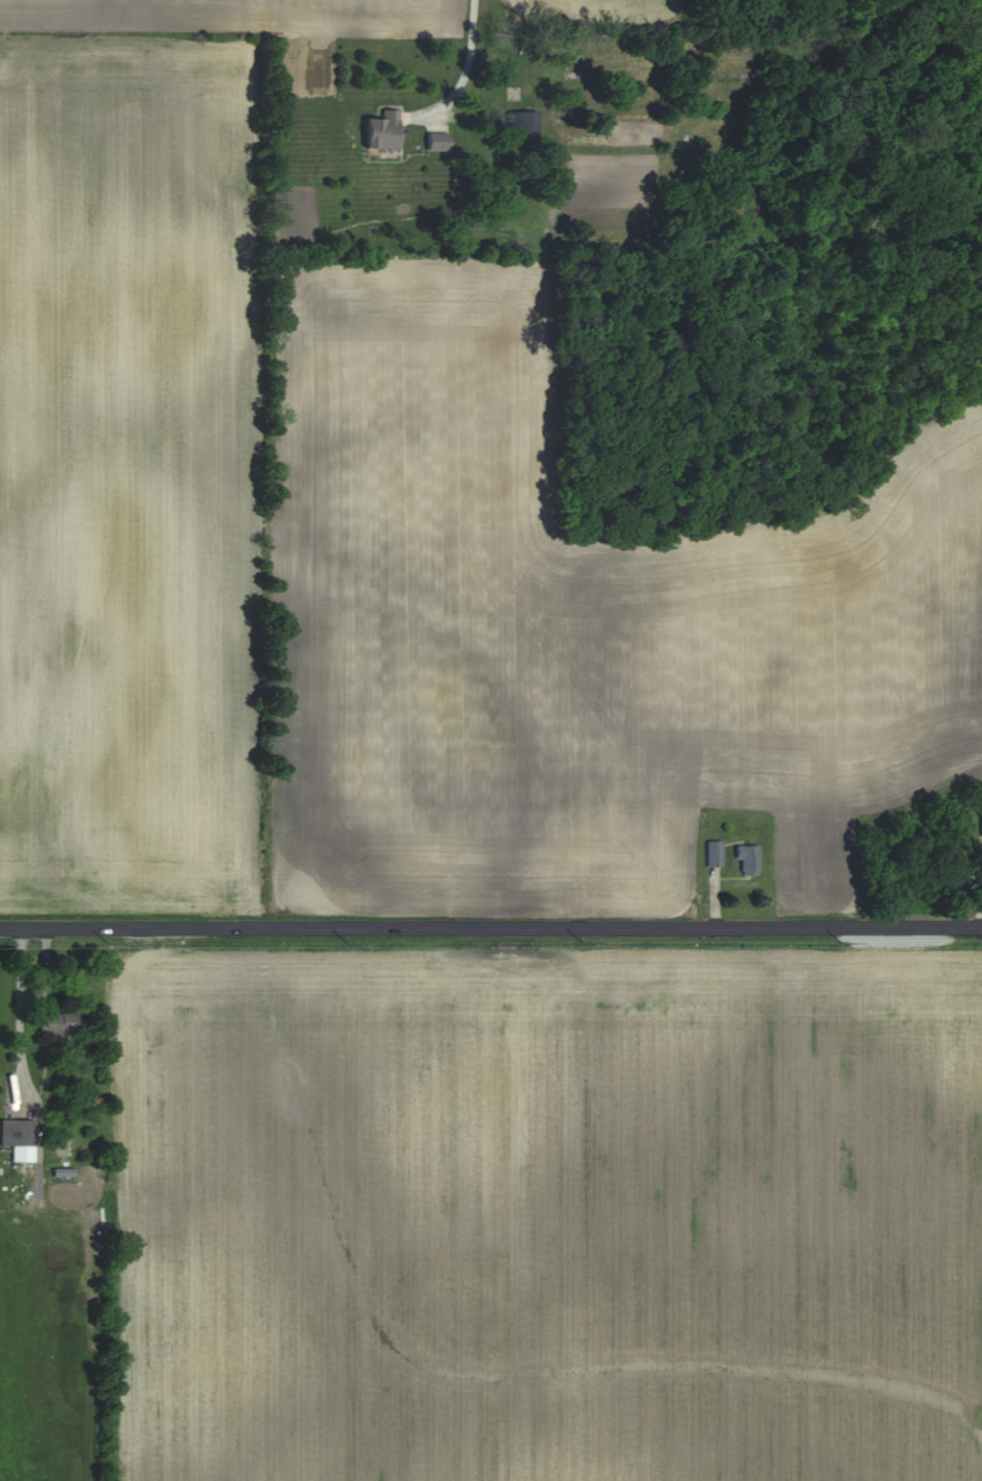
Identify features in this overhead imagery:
road: (478, 55)
building: (380, 132)
building: (435, 142)
building: (981, 824)
building: (713, 853)
building: (746, 858)
road: (491, 927)
building: (61, 1026)
building: (17, 1138)

